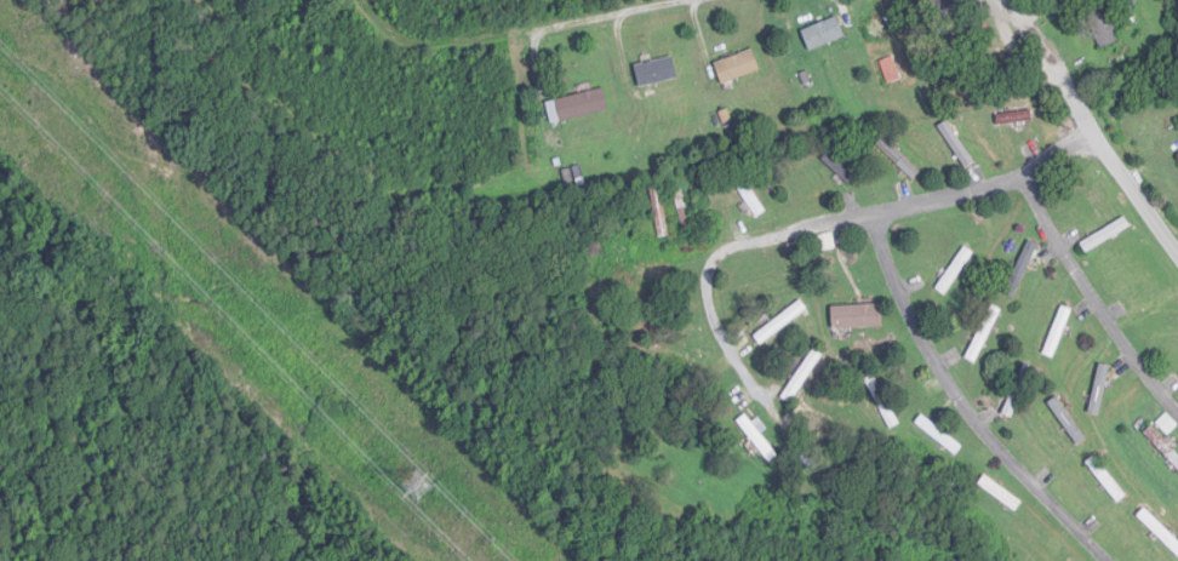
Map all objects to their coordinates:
building: (940, 8)
road: (619, 13)
building: (1104, 28)
building: (824, 35)
building: (738, 68)
building: (891, 71)
building: (657, 73)
building: (578, 107)
building: (1016, 119)
road: (1093, 124)
building: (957, 145)
building: (899, 159)
building: (839, 168)
building: (749, 195)
building: (661, 212)
building: (685, 212)
road: (813, 229)
building: (1105, 236)
building: (1022, 269)
building: (956, 271)
road: (1088, 307)
building: (1154, 308)
building: (858, 316)
building: (782, 322)
building: (1058, 332)
building: (984, 334)
building: (805, 374)
building: (1100, 389)
building: (1019, 390)
building: (883, 401)
road: (954, 406)
building: (1068, 420)
building: (940, 435)
building: (759, 439)
building: (1162, 445)
building: (1108, 480)
power tower: (414, 482)
building: (1001, 493)
building: (1160, 531)

